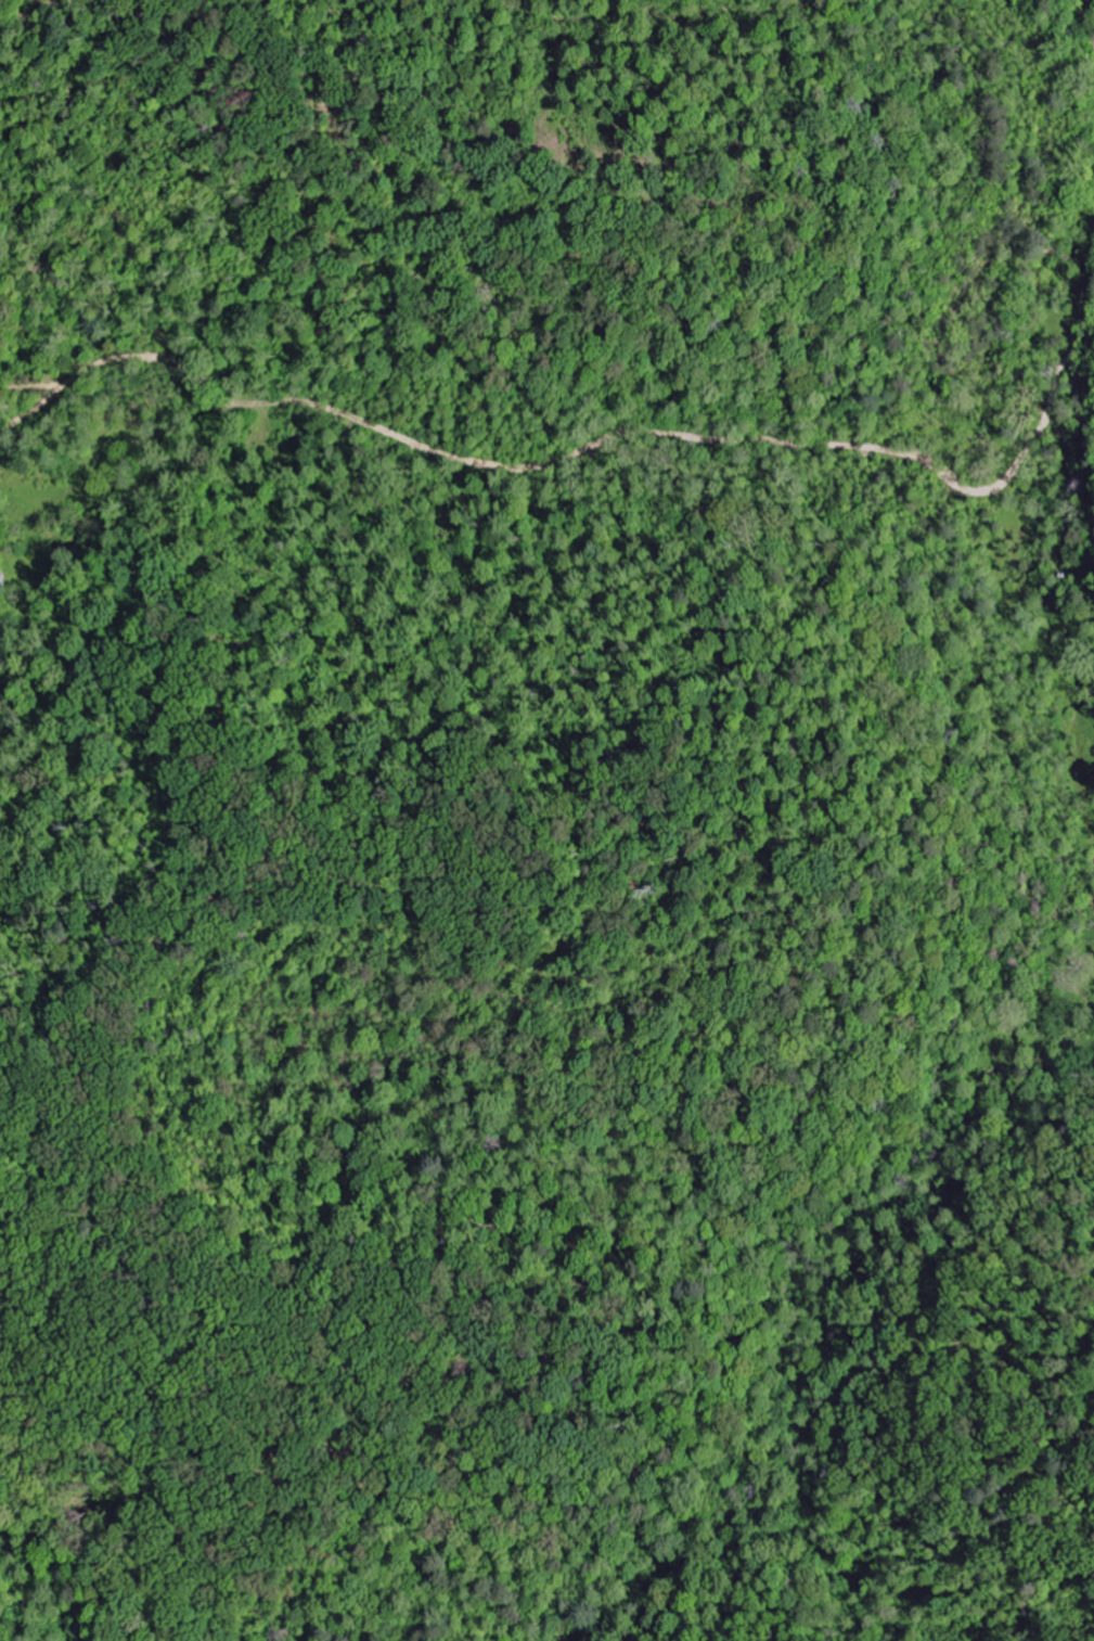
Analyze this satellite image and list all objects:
road: (1073, 120)
road: (1080, 370)
road: (842, 1347)

